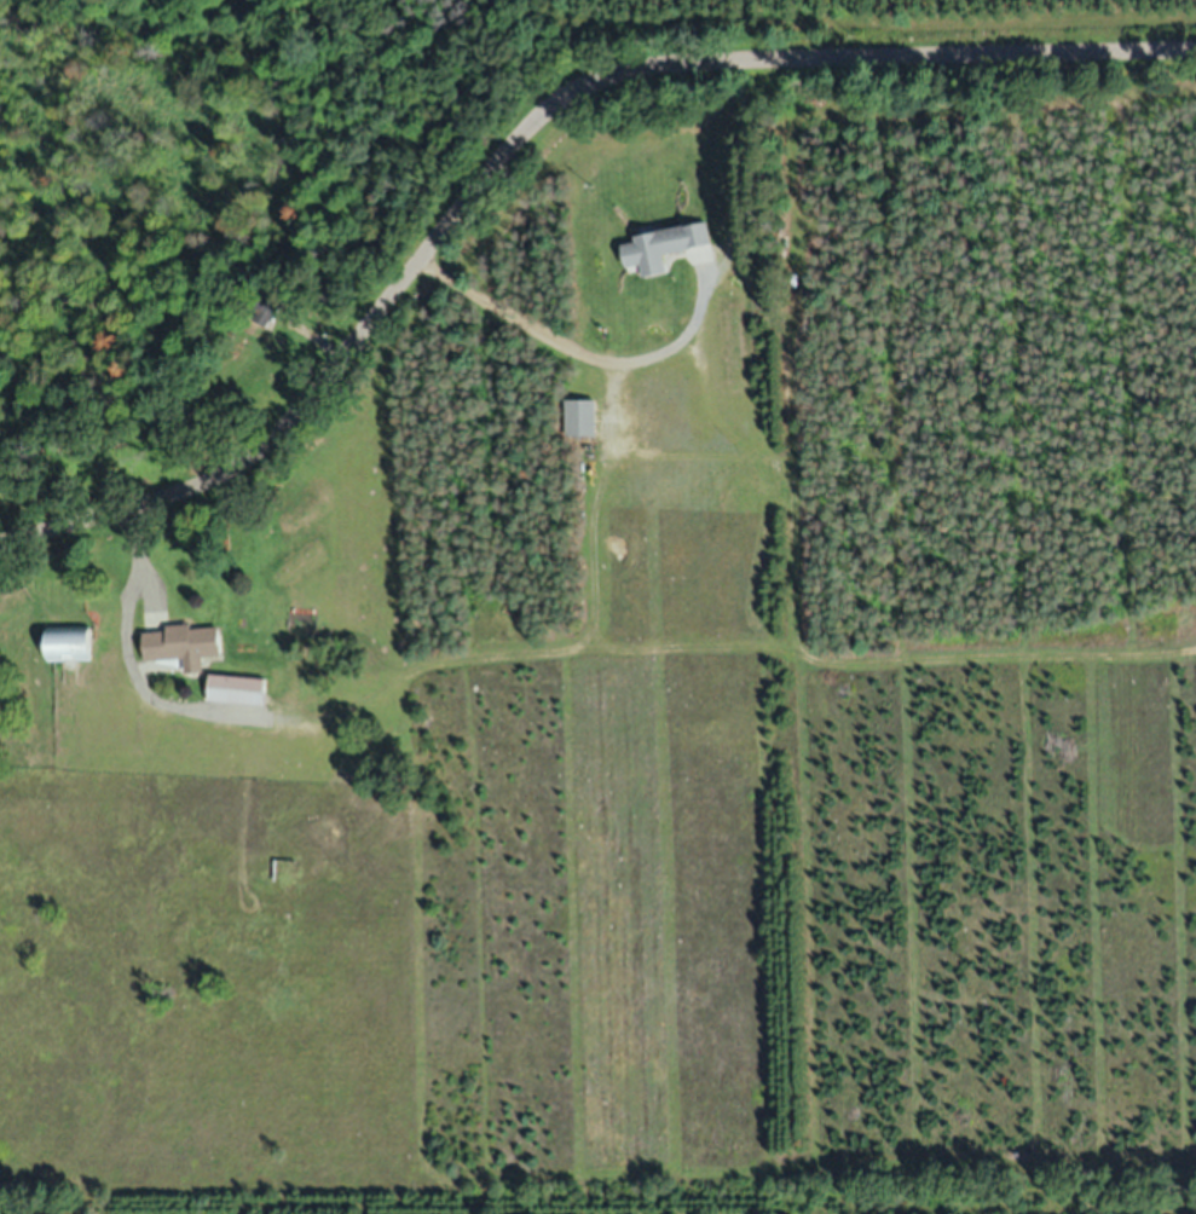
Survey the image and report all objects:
road: (521, 122)
building: (665, 247)
building: (265, 322)
building: (580, 420)
building: (70, 644)
building: (184, 647)
building: (238, 692)

